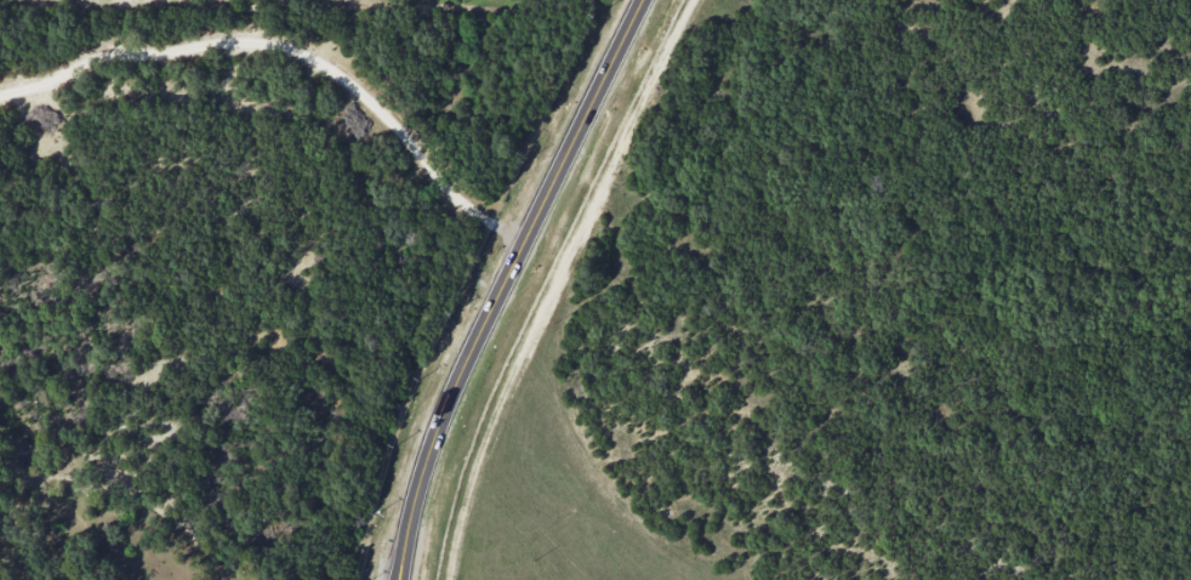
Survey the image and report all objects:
road: (294, 49)
road: (502, 283)

